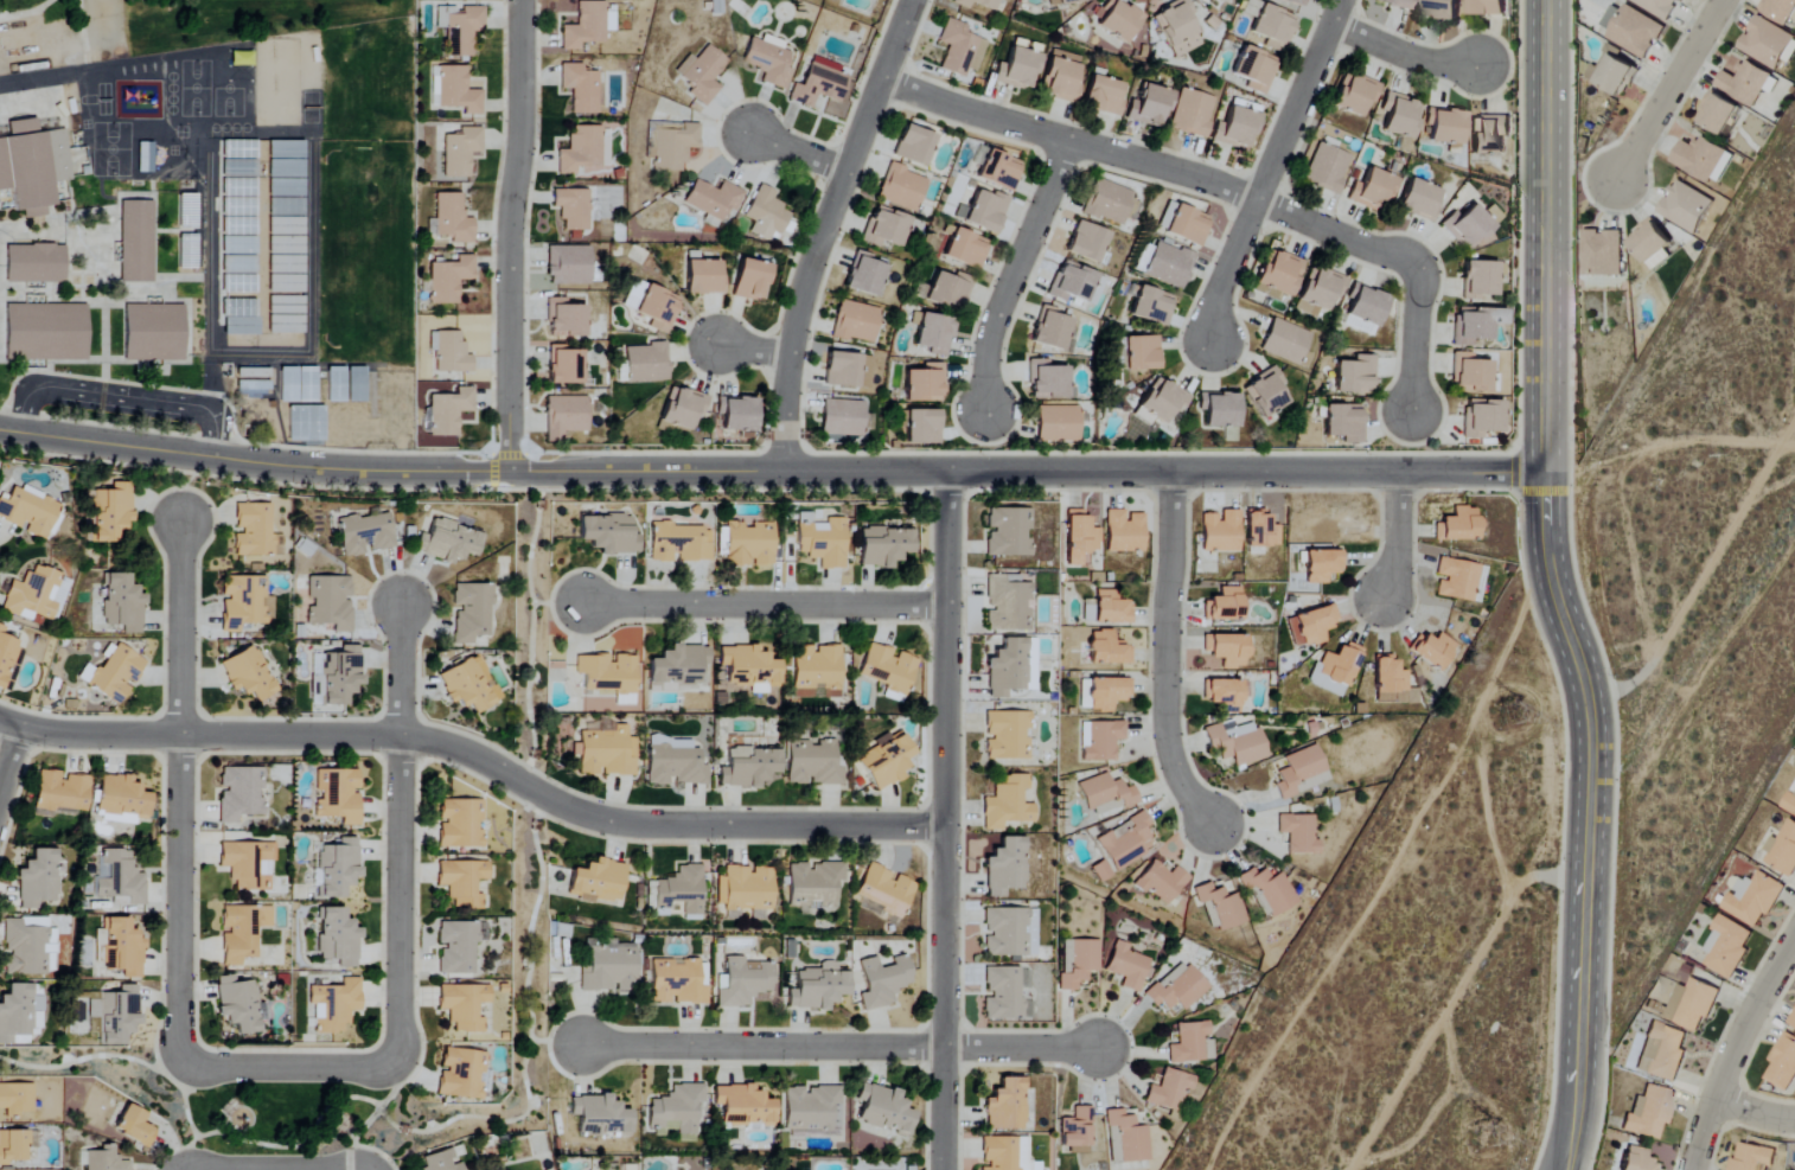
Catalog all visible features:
building: (1005, 0)
building: (1063, 1)
building: (1220, 1)
building: (1293, 1)
building: (1397, 2)
building: (977, 4)
building: (1659, 6)
building: (1491, 7)
building: (1444, 8)
building: (1782, 9)
road: (30, 13)
building: (1118, 19)
park: (158, 25)
building: (587, 25)
building: (1273, 26)
building: (459, 27)
building: (1177, 28)
building: (1634, 28)
road: (84, 37)
building: (1770, 43)
building: (959, 49)
road: (1400, 53)
building: (768, 63)
building: (1017, 69)
building: (1256, 69)
building: (1617, 72)
building: (702, 73)
building: (1061, 76)
road: (45, 81)
building: (1749, 82)
building: (818, 87)
building: (581, 88)
building: (458, 90)
road: (1669, 91)
building: (1355, 94)
building: (1103, 95)
building: (1152, 103)
building: (1190, 113)
building: (1721, 113)
building: (1400, 117)
building: (1446, 128)
building: (1235, 129)
building: (1488, 135)
building: (914, 145)
building: (671, 146)
building: (581, 151)
road: (796, 151)
building: (460, 152)
building: (1705, 159)
building: (32, 165)
road: (1151, 165)
building: (1327, 168)
building: (999, 170)
road: (1267, 171)
building: (902, 187)
building: (1373, 190)
building: (1420, 199)
building: (714, 200)
building: (1109, 203)
building: (1687, 206)
building: (573, 207)
building: (986, 210)
building: (766, 213)
building: (452, 218)
building: (1183, 223)
building: (1470, 224)
building: (886, 226)
road: (824, 230)
road: (511, 236)
building: (136, 241)
building: (1087, 241)
building: (1654, 243)
building: (966, 248)
building: (1603, 252)
building: (34, 263)
building: (569, 264)
building: (1169, 264)
building: (1280, 273)
building: (865, 275)
road: (1014, 275)
building: (703, 277)
road: (207, 279)
building: (449, 279)
building: (1480, 279)
building: (752, 280)
building: (1075, 283)
building: (947, 290)
building: (1320, 290)
road: (308, 300)
building: (1367, 303)
building: (1152, 305)
building: (658, 308)
building: (567, 317)
building: (242, 319)
building: (855, 321)
building: (1476, 324)
building: (1052, 330)
building: (46, 332)
building: (153, 332)
building: (932, 332)
road: (1417, 338)
building: (1285, 341)
road: (749, 349)
building: (449, 352)
building: (1142, 352)
building: (646, 363)
building: (564, 365)
building: (848, 370)
building: (1471, 373)
building: (1356, 375)
building: (1049, 382)
building: (925, 383)
building: (298, 384)
building: (336, 384)
building: (356, 384)
building: (1266, 392)
road: (122, 397)
building: (1163, 399)
building: (683, 408)
building: (1220, 409)
building: (449, 411)
building: (737, 413)
building: (564, 416)
building: (842, 417)
building: (1482, 417)
road: (230, 422)
building: (1058, 423)
building: (1344, 423)
building: (922, 427)
road: (487, 450)
road: (253, 462)
road: (1026, 472)
road: (242, 479)
building: (110, 511)
building: (27, 513)
building: (1459, 525)
building: (253, 530)
building: (1261, 530)
building: (1125, 531)
building: (1221, 531)
building: (1009, 532)
building: (608, 533)
building: (364, 535)
road: (1395, 537)
building: (1080, 538)
building: (447, 542)
building: (823, 542)
building: (679, 543)
building: (748, 544)
building: (884, 546)
building: (1457, 580)
road: (1553, 587)
building: (32, 595)
building: (244, 602)
building: (330, 602)
building: (122, 603)
road: (762, 603)
building: (1007, 603)
building: (1225, 606)
building: (1111, 608)
building: (471, 612)
building: (1311, 626)
building: (1109, 648)
building: (1227, 650)
building: (1435, 651)
road: (1164, 652)
building: (6, 656)
building: (749, 666)
building: (677, 667)
building: (1011, 667)
building: (889, 669)
building: (1336, 670)
building: (817, 671)
building: (113, 674)
building: (248, 674)
building: (338, 674)
building: (609, 676)
building: (1391, 680)
building: (468, 684)
building: (1222, 692)
building: (1107, 693)
power tower: (1516, 702)
building: (1007, 735)
building: (1101, 740)
building: (1237, 742)
building: (606, 753)
road: (477, 757)
road: (8, 759)
building: (887, 762)
building: (813, 763)
building: (675, 766)
building: (748, 767)
building: (1302, 772)
building: (62, 791)
road: (178, 791)
building: (1107, 792)
building: (239, 794)
building: (338, 795)
building: (121, 800)
building: (1790, 801)
building: (1007, 803)
road: (945, 820)
building: (459, 824)
building: (1299, 833)
building: (1128, 840)
building: (1783, 850)
road: (1592, 863)
building: (249, 864)
building: (1007, 867)
building: (338, 868)
building: (1103, 871)
building: (120, 878)
building: (37, 880)
building: (598, 881)
building: (462, 882)
building: (1162, 882)
building: (815, 884)
building: (745, 888)
building: (884, 889)
building: (1270, 890)
building: (681, 891)
building: (1754, 899)
building: (1221, 908)
building: (242, 932)
road: (398, 932)
building: (1005, 932)
building: (338, 939)
building: (124, 947)
building: (456, 947)
building: (1727, 947)
building: (27, 948)
building: (107, 958)
building: (1078, 963)
building: (1128, 966)
building: (607, 967)
building: (678, 982)
building: (882, 982)
building: (742, 983)
building: (817, 987)
building: (1176, 989)
building: (1003, 995)
building: (238, 1004)
building: (1692, 1004)
building: (334, 1005)
building: (464, 1006)
building: (18, 1014)
building: (115, 1015)
building: (1793, 1021)
building: (36, 1023)
building: (1189, 1043)
road: (1733, 1046)
road: (839, 1047)
building: (1208, 1050)
building: (1662, 1053)
building: (1783, 1063)
building: (461, 1074)
building: (1169, 1091)
building: (15, 1099)
building: (743, 1106)
building: (1007, 1106)
building: (812, 1110)
building: (884, 1110)
road: (1754, 1110)
building: (677, 1111)
building: (1649, 1113)
building: (600, 1115)
building: (134, 1126)
building: (1077, 1131)
power tower: (1483, 1137)
building: (1126, 1139)
building: (12, 1147)
building: (1022, 1152)
building: (999, 1153)
building: (1754, 1158)
building: (102, 1159)
building: (1637, 1159)
building: (441, 1161)
road: (269, 1169)

